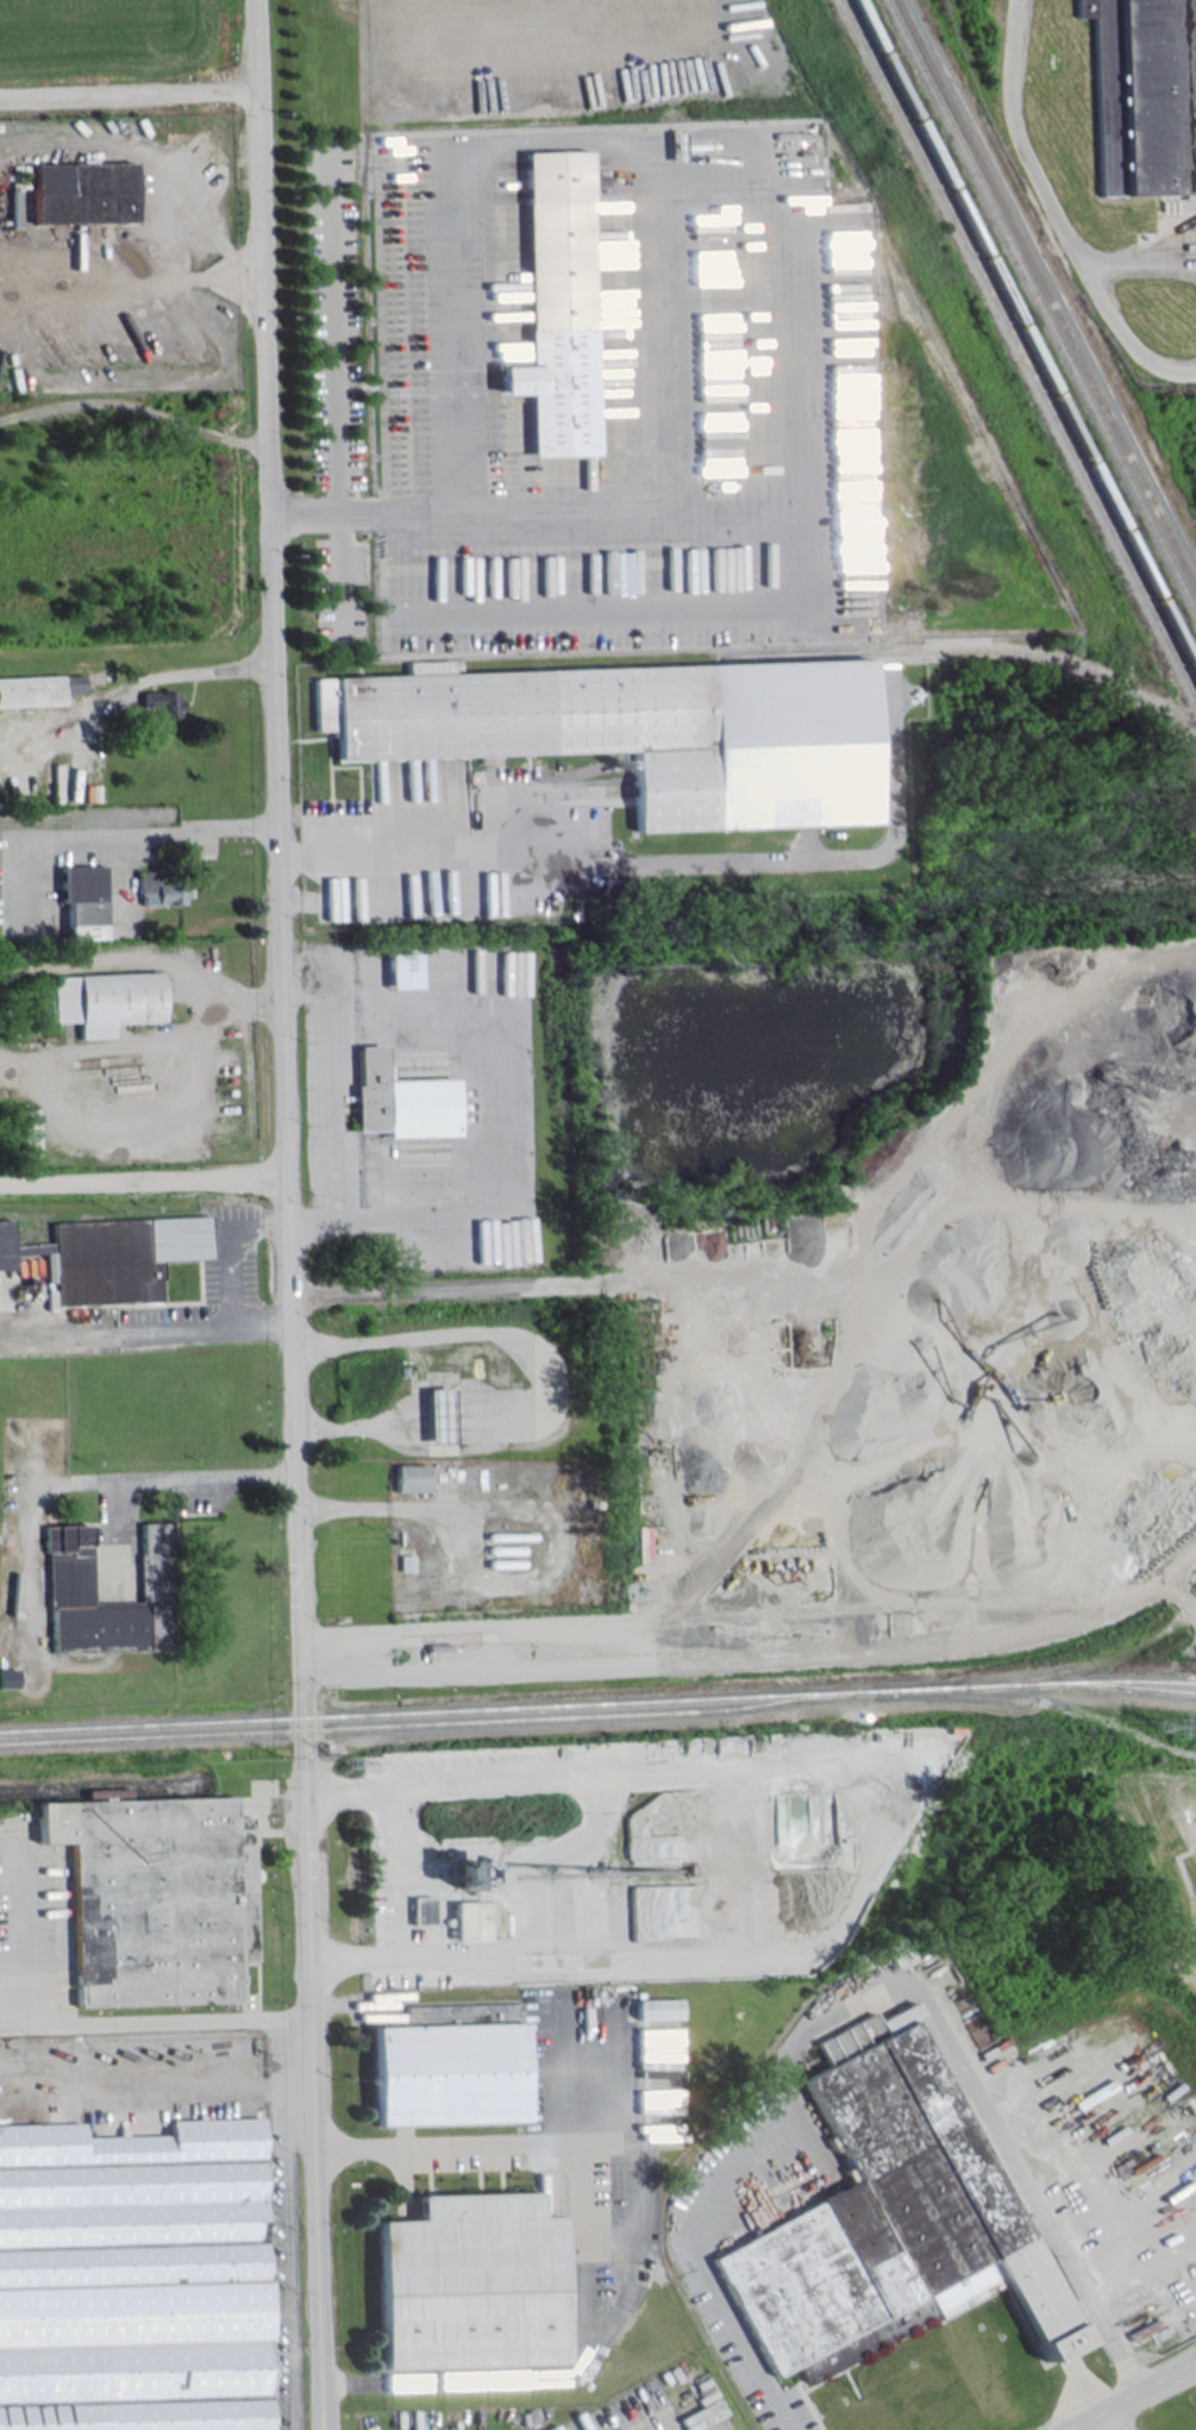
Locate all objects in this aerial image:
crop: (98, 36)
road: (126, 92)
building: (1144, 95)
road: (1013, 132)
building: (80, 192)
road: (777, 223)
road: (1133, 262)
road: (130, 284)
railway: (1045, 296)
building: (553, 303)
railway: (1039, 308)
road: (1119, 331)
road: (333, 333)
railway: (1023, 339)
railway: (1019, 350)
road: (301, 515)
road: (339, 580)
railway: (760, 653)
building: (37, 689)
building: (161, 704)
building: (640, 731)
road: (119, 840)
road: (669, 860)
building: (156, 888)
building: (80, 900)
road: (333, 900)
building: (399, 970)
road: (278, 978)
building: (104, 1001)
building: (399, 1100)
road: (328, 1107)
building: (23, 1133)
road: (142, 1180)
road: (224, 1250)
building: (109, 1257)
road: (144, 1333)
road: (539, 1383)
building: (436, 1414)
road: (180, 1476)
building: (408, 1478)
building: (68, 1578)
building: (439, 1646)
road: (337, 1655)
railway: (1085, 1662)
building: (7, 1677)
railway: (1186, 1681)
railway: (1138, 1686)
railway: (725, 1697)
railway: (1042, 1703)
railway: (406, 1723)
railway: (137, 1724)
power tower: (1157, 1726)
power tower: (752, 1745)
power tower: (345, 1764)
railway: (95, 1795)
road: (393, 1873)
building: (155, 1897)
road: (308, 1984)
road: (863, 1994)
road: (81, 2018)
building: (445, 2072)
road: (169, 2078)
road: (459, 2147)
road: (314, 2221)
building: (132, 2278)
building: (469, 2282)
road: (1129, 2393)
road: (1106, 2420)

